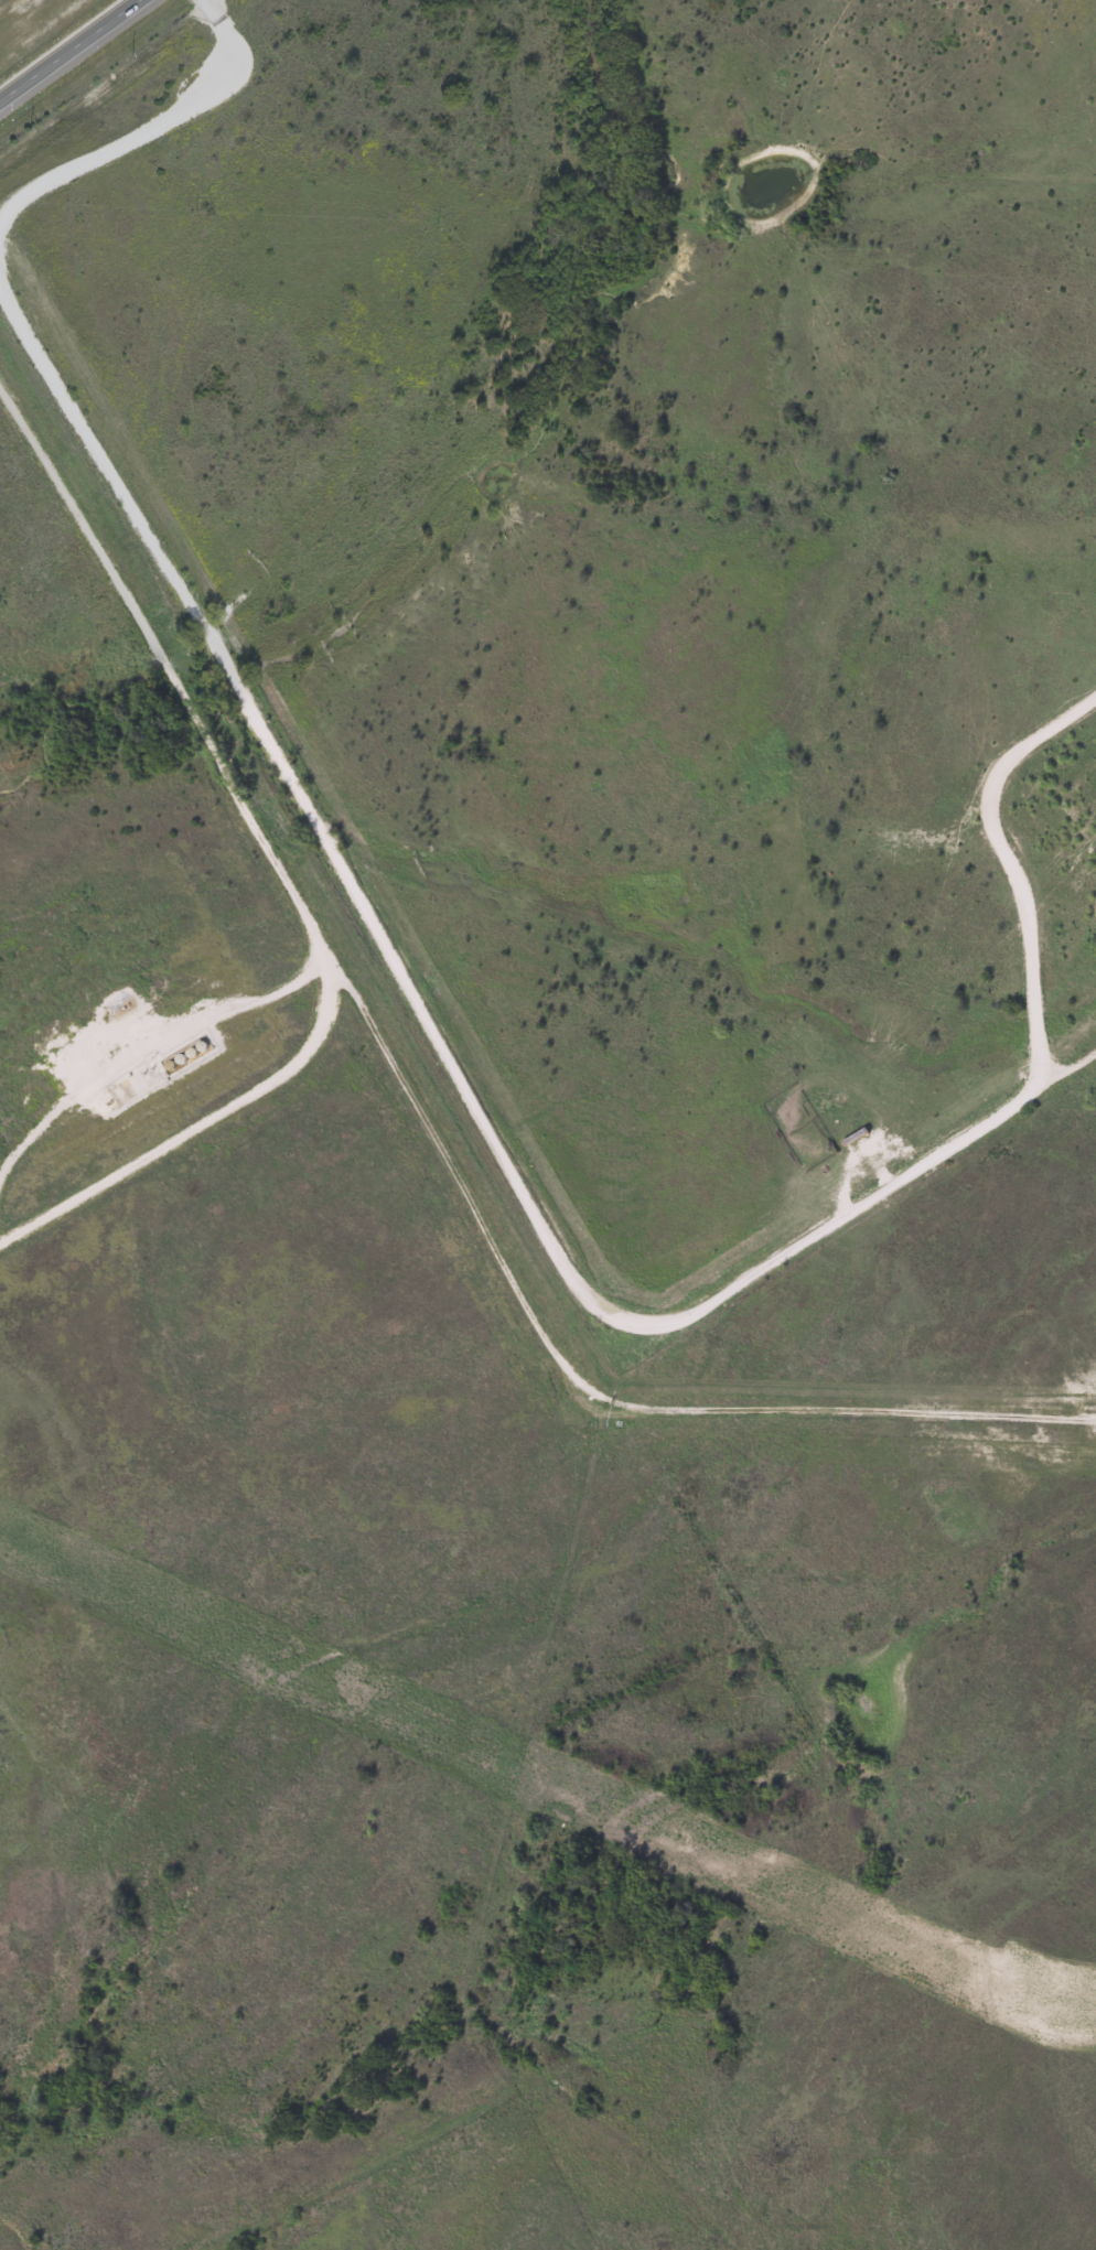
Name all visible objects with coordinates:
road: (68, 50)
road: (147, 126)
road: (1012, 864)
road: (426, 1026)
road: (159, 1044)
road: (423, 1116)
road: (204, 1122)
road: (0, 1240)

